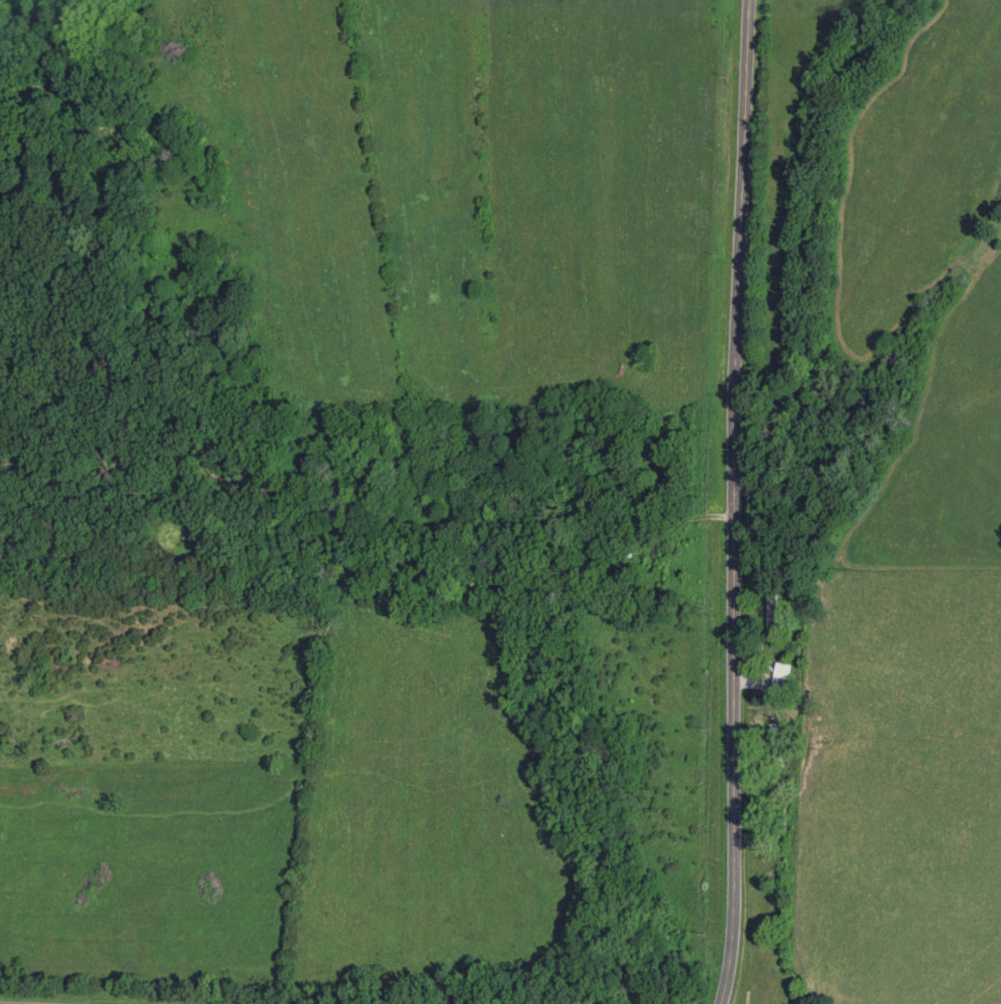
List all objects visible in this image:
road: (739, 502)
building: (770, 611)
building: (779, 686)
building: (777, 741)

